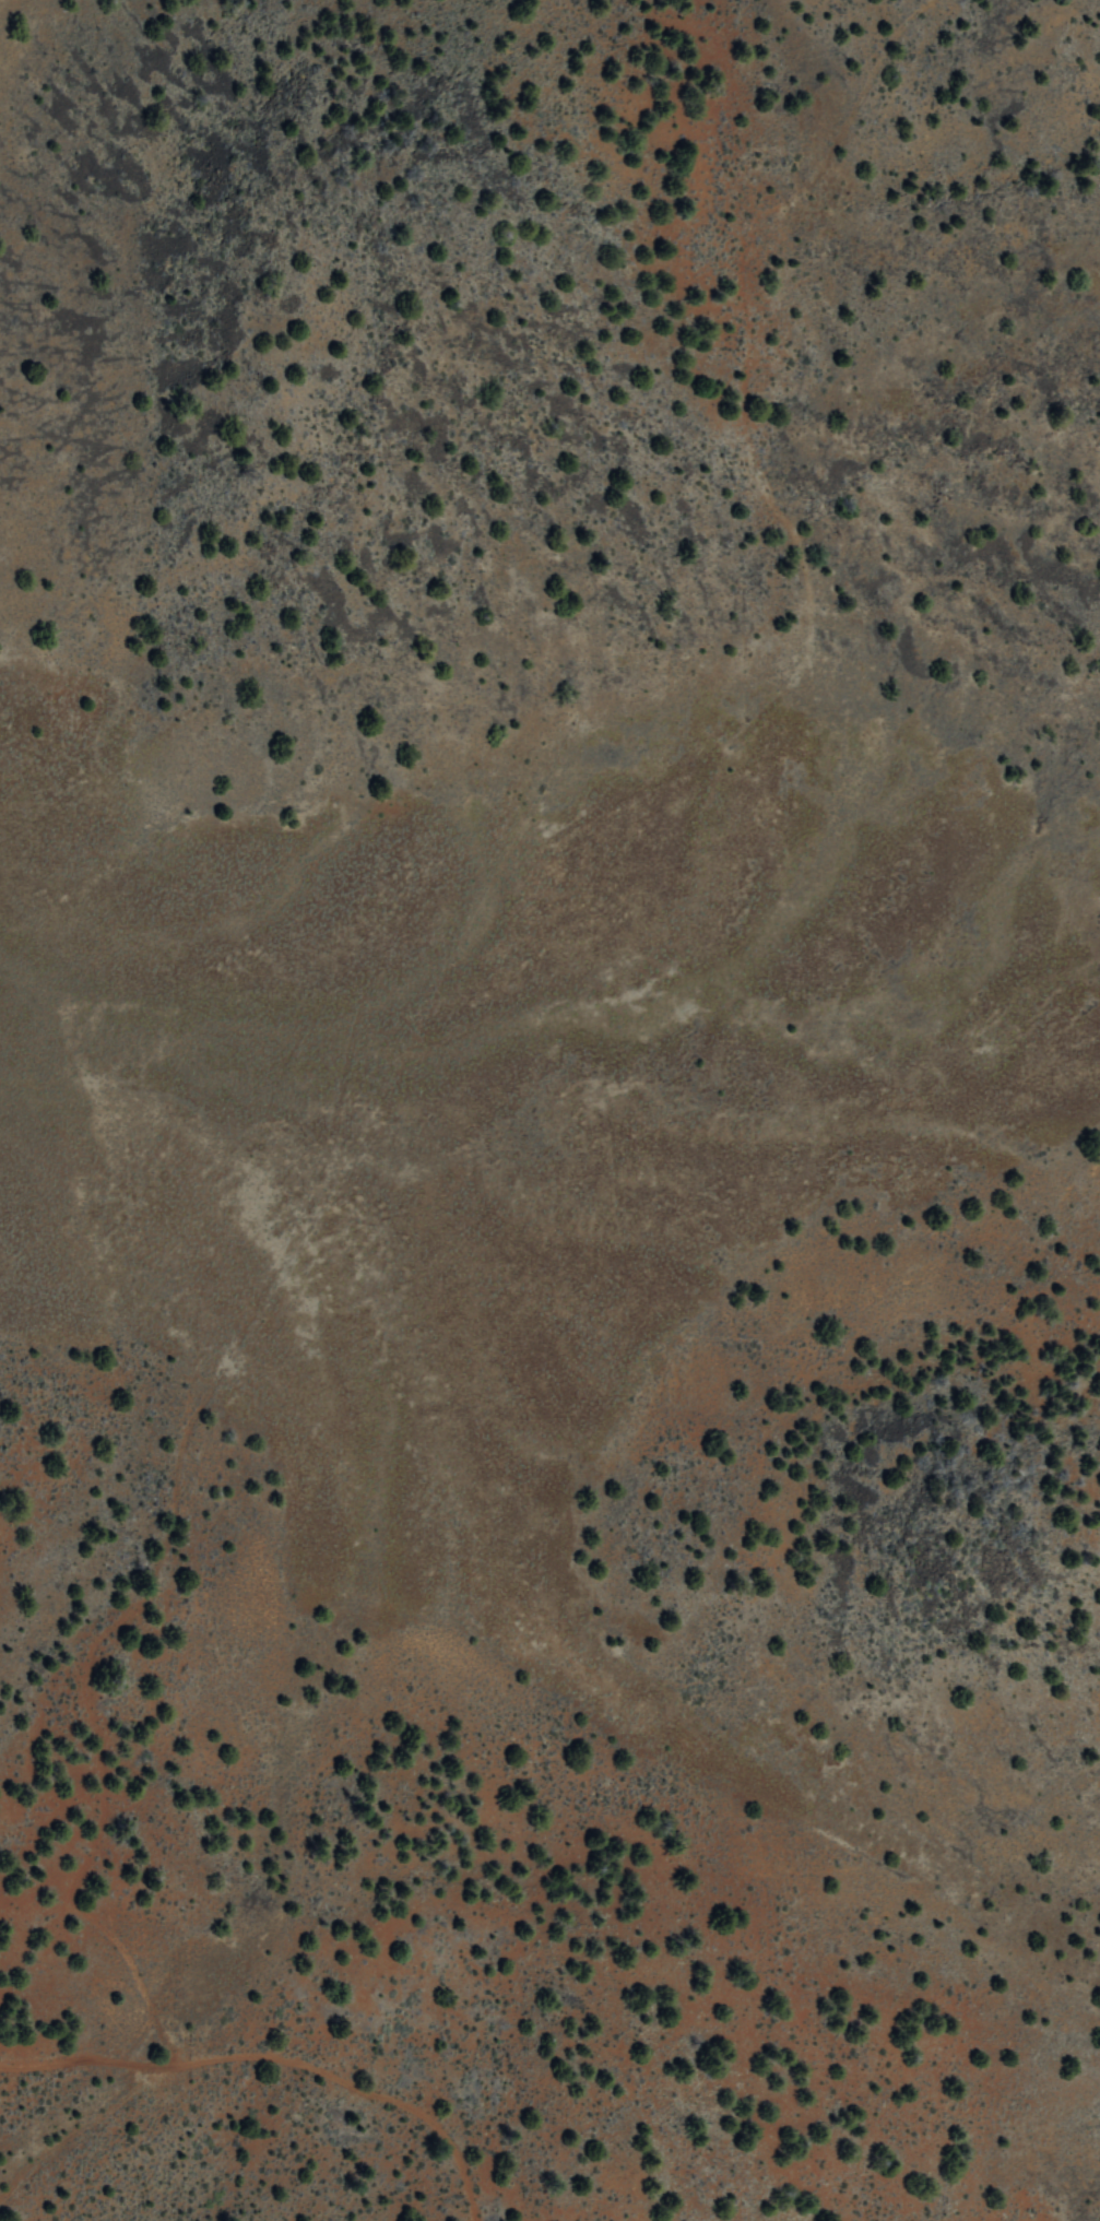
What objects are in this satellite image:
road: (279, 2054)

